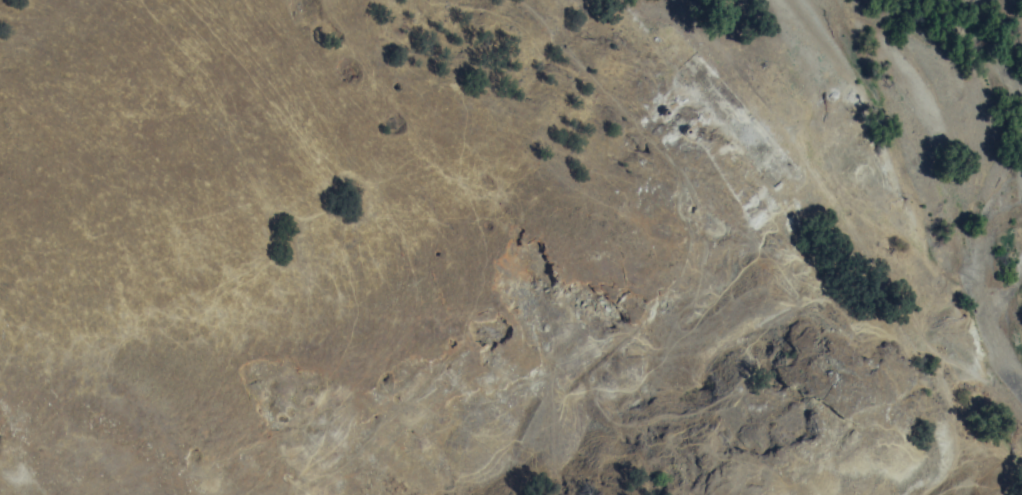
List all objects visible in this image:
river: (995, 69)
river: (981, 326)

